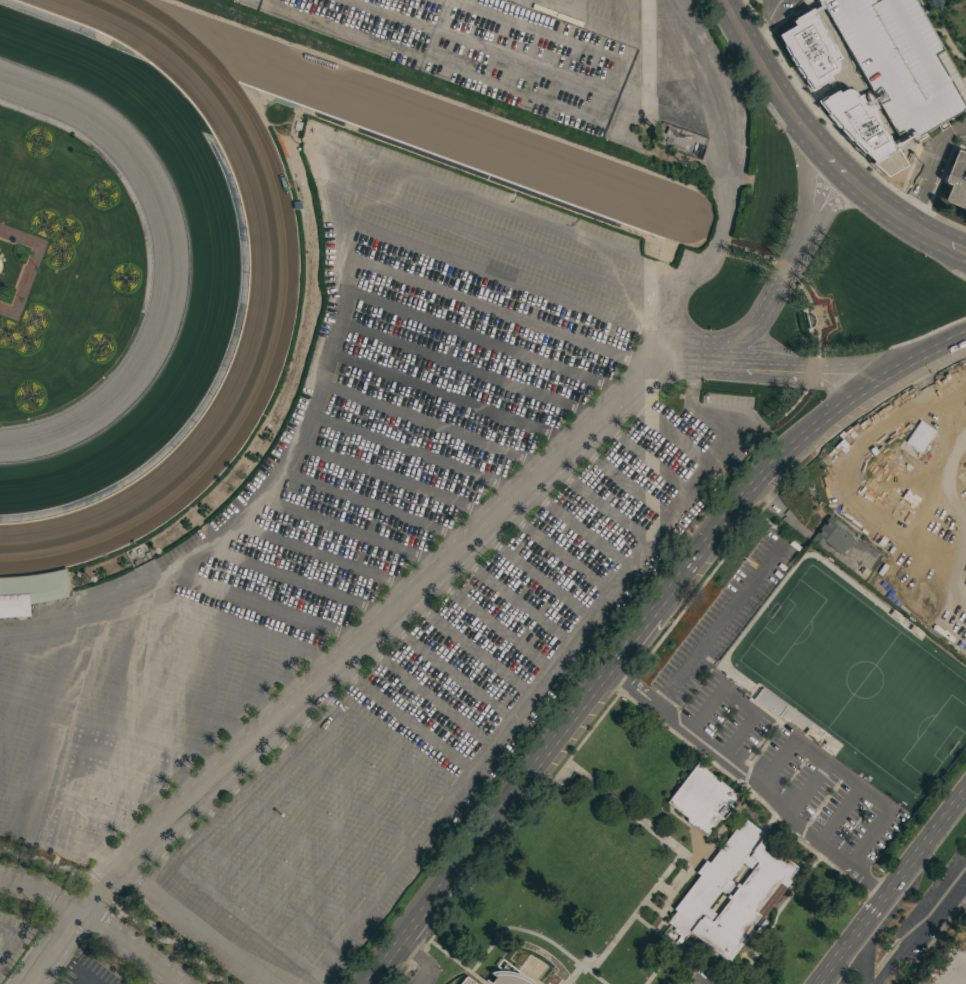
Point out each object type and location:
road: (628, 2)
road: (762, 19)
road: (582, 20)
road: (485, 48)
parking lot: (495, 49)
road: (639, 56)
building: (878, 73)
road: (965, 84)
road: (552, 107)
road: (965, 125)
road: (820, 147)
road: (926, 165)
building: (956, 181)
road: (498, 210)
road: (716, 241)
road: (497, 244)
road: (965, 250)
road: (965, 250)
track: (167, 259)
road: (29, 266)
road: (782, 273)
track: (275, 277)
road: (497, 278)
track: (214, 280)
road: (493, 312)
road: (484, 343)
road: (849, 364)
road: (468, 372)
road: (903, 374)
road: (868, 385)
road: (828, 389)
road: (934, 396)
road: (451, 400)
road: (922, 408)
road: (958, 409)
road: (433, 427)
road: (958, 427)
road: (415, 455)
road: (280, 469)
road: (773, 480)
road: (396, 482)
road: (373, 509)
road: (351, 533)
building: (832, 536)
road: (704, 559)
road: (299, 582)
building: (29, 595)
parking lot: (352, 598)
road: (272, 605)
road: (393, 614)
road: (721, 623)
road: (237, 628)
road: (631, 648)
road: (215, 656)
road: (553, 666)
park: (856, 677)
road: (199, 683)
road: (18, 691)
road: (423, 699)
road: (739, 701)
building: (769, 703)
road: (181, 711)
road: (404, 720)
road: (41, 727)
road: (163, 739)
road: (381, 744)
road: (79, 757)
road: (144, 767)
road: (360, 767)
road: (845, 777)
road: (748, 782)
road: (337, 792)
road: (129, 794)
building: (701, 799)
road: (316, 816)
road: (109, 825)
road: (489, 830)
road: (295, 841)
road: (925, 842)
road: (275, 862)
road: (252, 887)
building: (732, 891)
park: (945, 891)
road: (231, 911)
road: (95, 920)
road: (919, 923)
road: (197, 926)
road: (8, 937)
road: (849, 939)
road: (421, 959)
road: (861, 961)
road: (73, 967)
building: (507, 977)
road: (83, 980)
building: (466, 981)
road: (816, 983)

